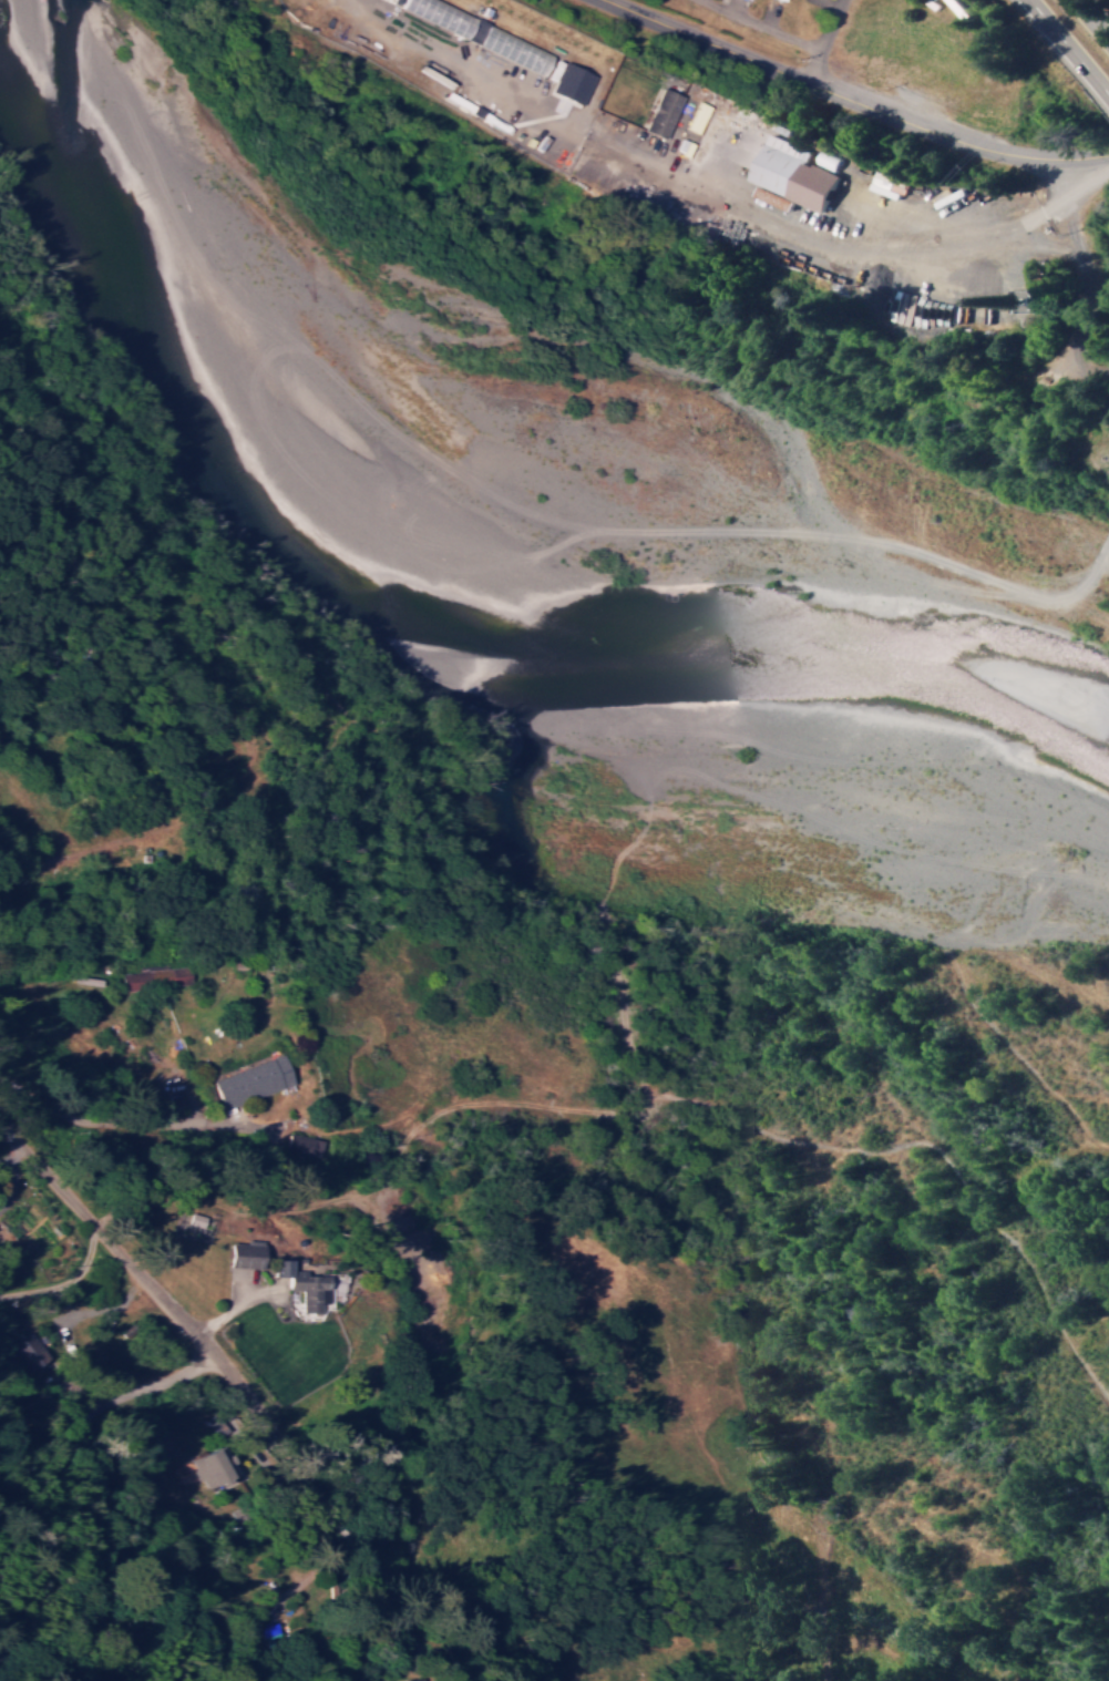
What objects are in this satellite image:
building: (783, 0)
road: (1091, 20)
building: (478, 32)
road: (1069, 47)
building: (571, 83)
road: (850, 102)
building: (660, 113)
railway: (790, 144)
building: (790, 173)
building: (772, 198)
river: (390, 386)
river: (988, 704)
building: (155, 978)
building: (248, 1080)
road: (31, 1212)
building: (188, 1221)
building: (243, 1253)
building: (300, 1284)
road: (249, 1394)
building: (219, 1466)
road: (466, 1672)
building: (412, 1680)

